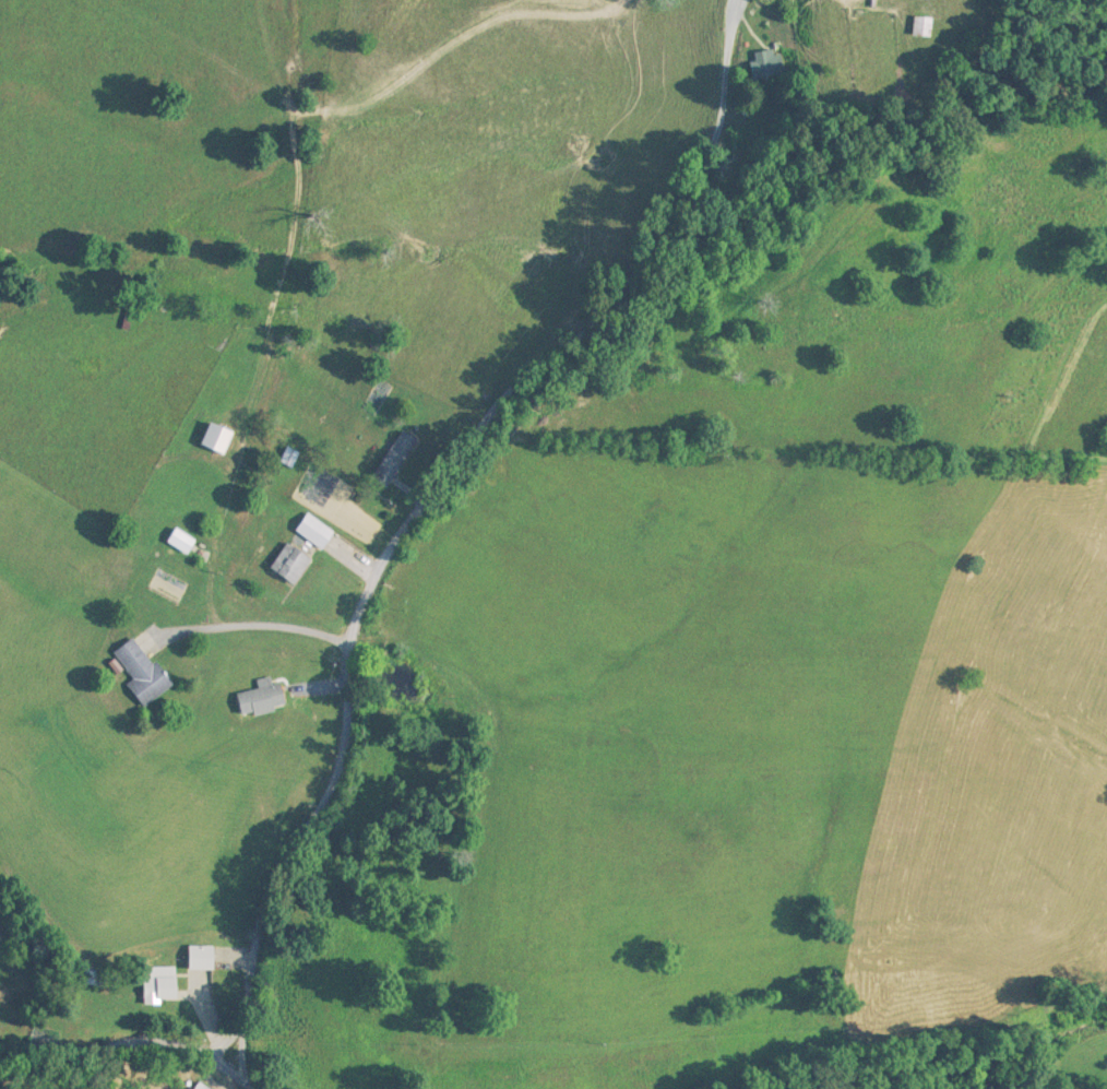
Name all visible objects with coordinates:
building: (922, 28)
building: (217, 441)
building: (289, 459)
building: (395, 461)
road: (433, 493)
building: (316, 534)
building: (290, 566)
building: (142, 673)
building: (202, 959)
building: (93, 979)
building: (159, 985)
road: (241, 1053)
road: (109, 1057)
road: (1072, 1081)
road: (1076, 1085)
building: (202, 1087)

